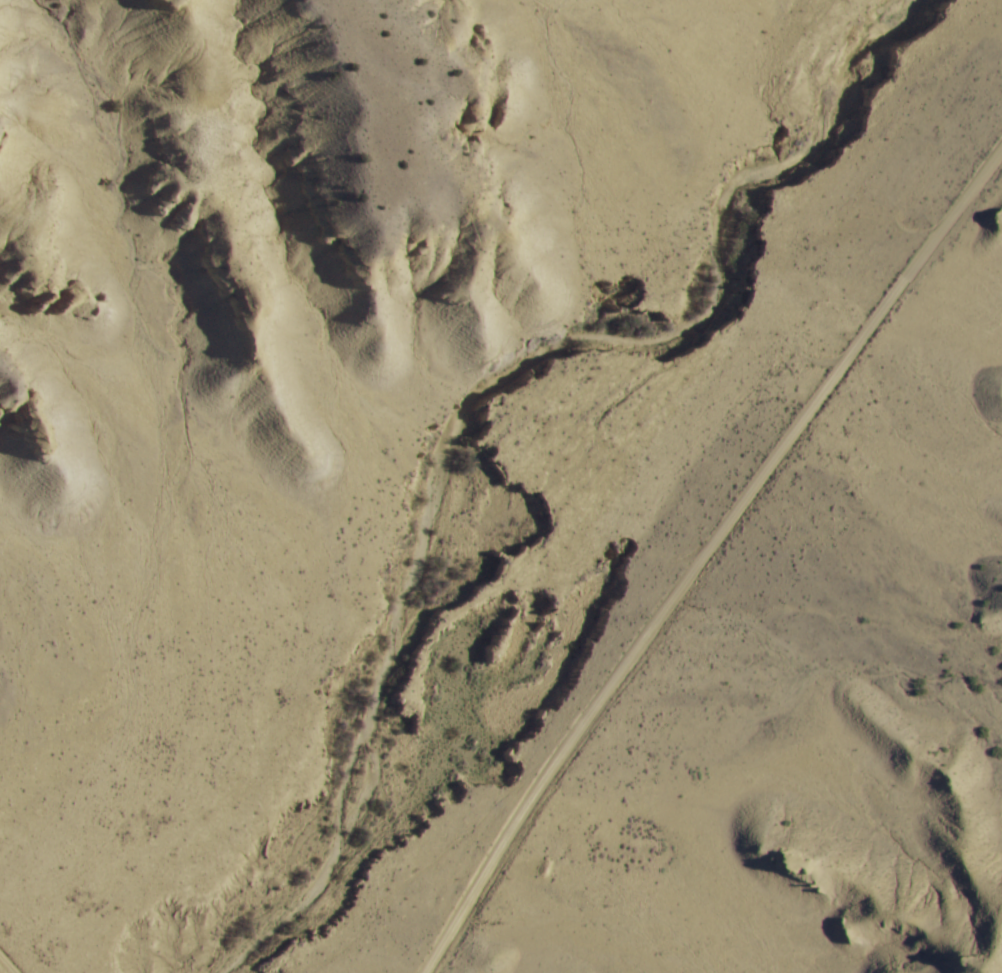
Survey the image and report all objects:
road: (703, 552)
road: (6, 965)

